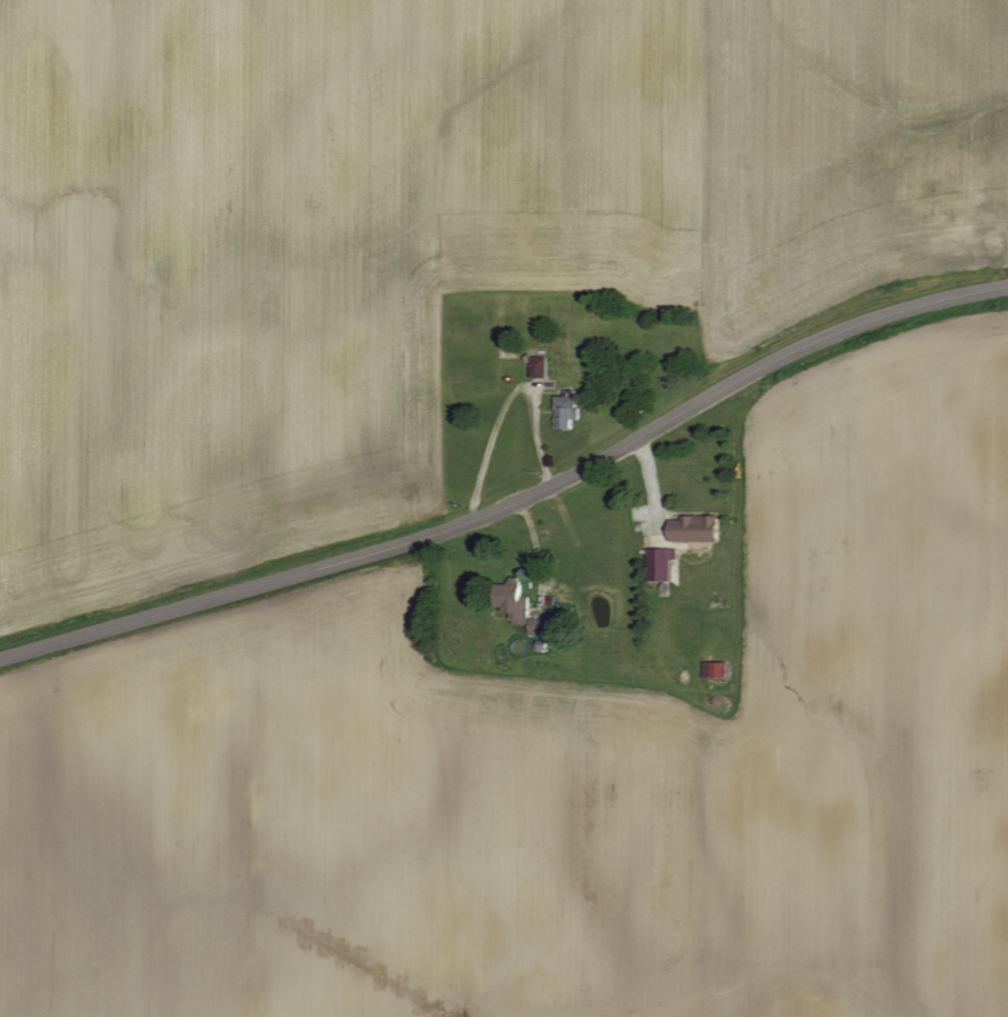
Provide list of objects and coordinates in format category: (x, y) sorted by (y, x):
building: (541, 365)
building: (572, 398)
road: (516, 501)
building: (685, 545)
building: (528, 609)
building: (720, 669)

